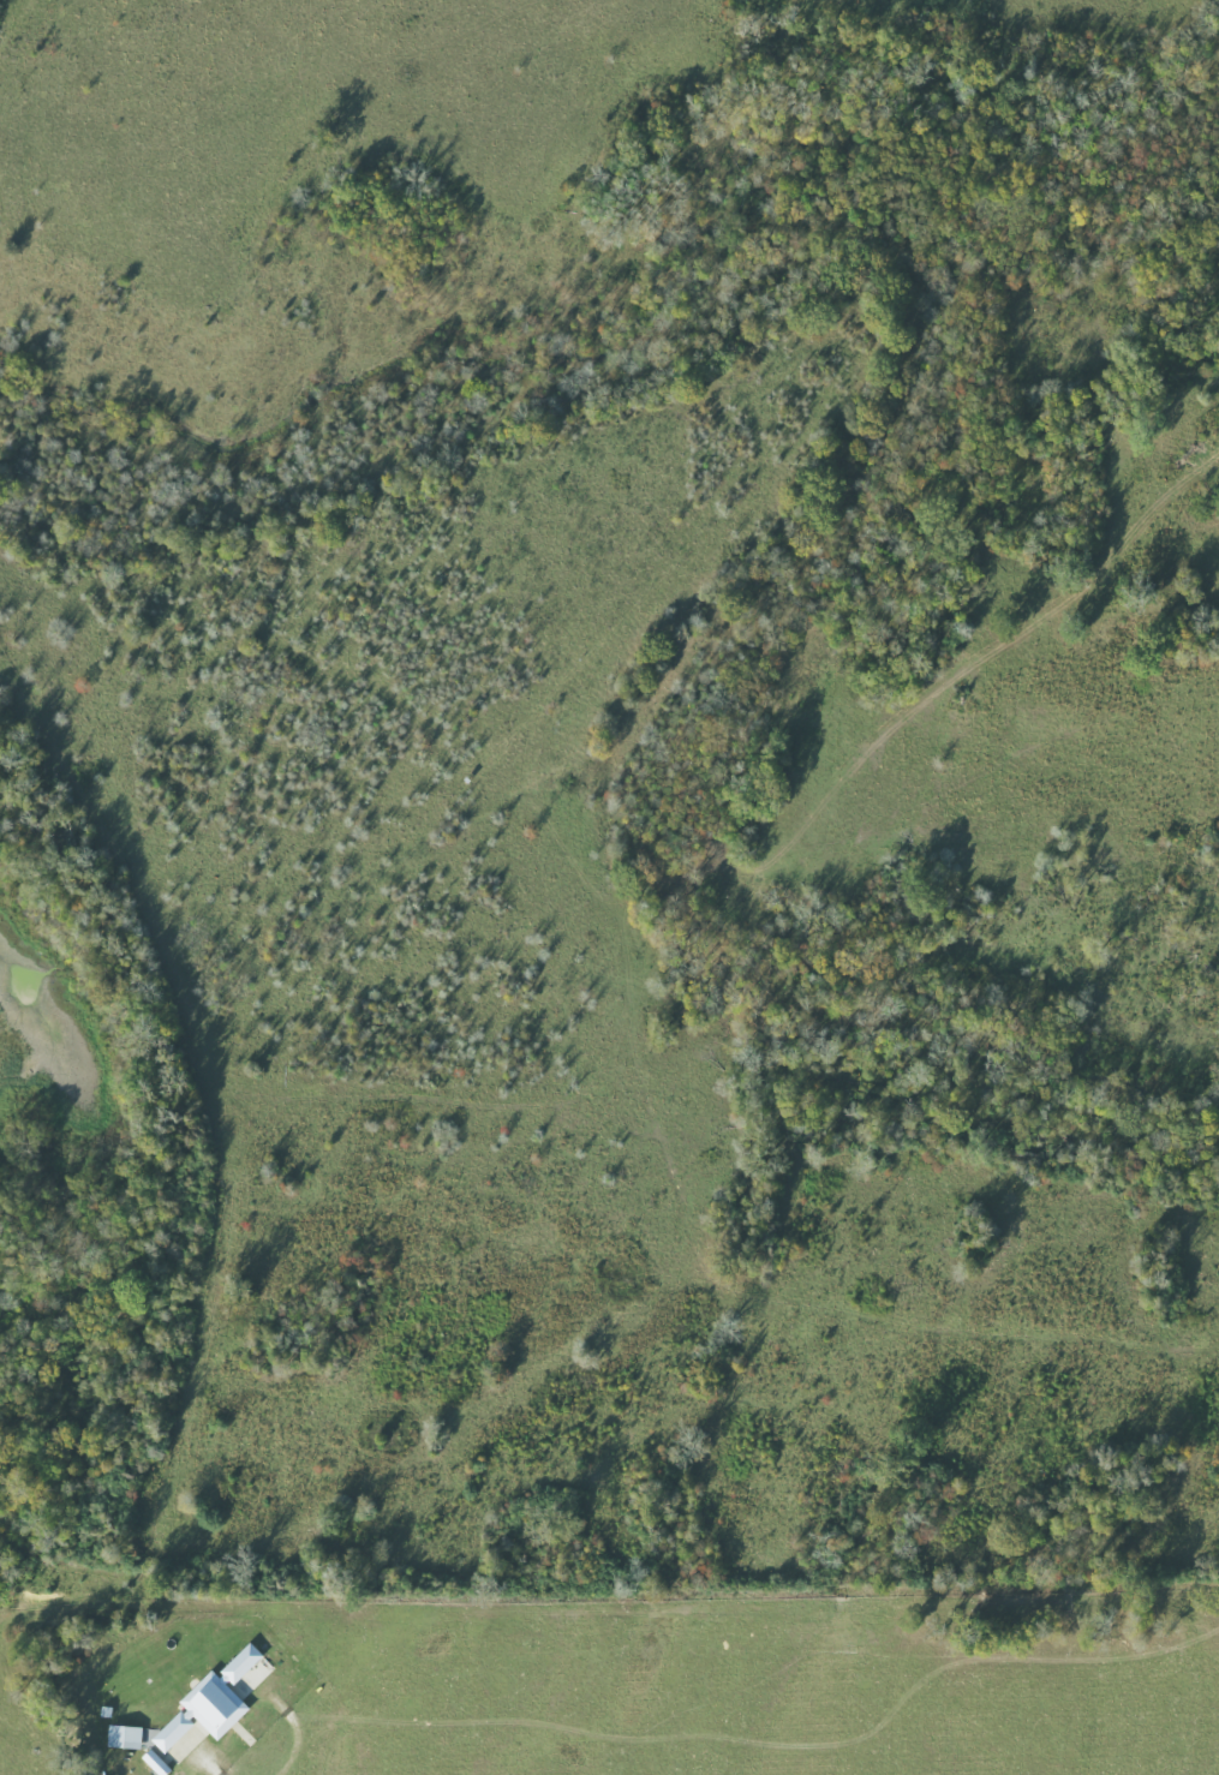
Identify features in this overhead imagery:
building: (129, 1737)
building: (160, 1763)

